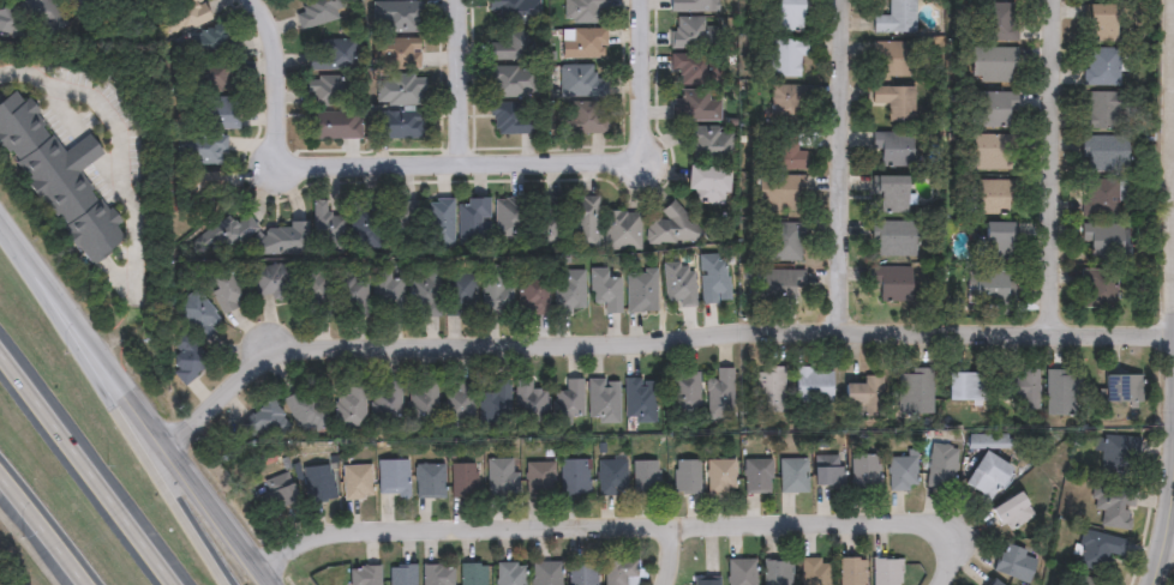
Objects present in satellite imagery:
building: (693, 6)
building: (40, 11)
building: (515, 11)
building: (583, 11)
building: (313, 12)
building: (787, 16)
building: (396, 17)
building: (181, 18)
building: (896, 19)
building: (8, 20)
building: (999, 23)
building: (1101, 23)
building: (695, 34)
building: (205, 44)
building: (583, 44)
building: (510, 48)
building: (397, 54)
building: (331, 56)
building: (786, 59)
building: (893, 60)
building: (993, 65)
building: (1102, 67)
building: (695, 70)
building: (216, 76)
road: (462, 80)
building: (580, 82)
road: (643, 82)
building: (510, 83)
building: (329, 91)
building: (399, 92)
building: (896, 103)
building: (785, 104)
building: (696, 107)
building: (992, 109)
building: (1104, 110)
building: (220, 114)
building: (519, 119)
building: (581, 120)
building: (333, 126)
building: (399, 126)
road: (116, 141)
building: (709, 145)
building: (892, 149)
building: (200, 151)
building: (786, 152)
building: (992, 152)
building: (1104, 155)
road: (373, 161)
road: (1056, 167)
road: (847, 169)
building: (59, 182)
building: (707, 185)
building: (200, 186)
building: (780, 191)
building: (888, 197)
building: (992, 197)
building: (1100, 199)
building: (510, 219)
building: (569, 222)
building: (360, 223)
building: (438, 223)
building: (472, 223)
building: (402, 225)
building: (671, 225)
building: (325, 229)
building: (622, 231)
road: (6, 233)
building: (227, 234)
building: (282, 240)
building: (892, 240)
building: (1102, 241)
building: (996, 242)
building: (784, 243)
building: (713, 279)
building: (892, 283)
building: (272, 284)
building: (678, 284)
building: (783, 287)
building: (990, 287)
building: (1098, 289)
building: (224, 290)
building: (569, 291)
building: (604, 291)
building: (495, 292)
building: (640, 292)
building: (387, 294)
building: (423, 294)
building: (459, 296)
building: (315, 298)
building: (352, 298)
building: (531, 298)
building: (196, 314)
road: (651, 342)
building: (185, 358)
building: (814, 385)
building: (965, 386)
building: (1023, 387)
building: (1121, 387)
building: (768, 388)
building: (916, 391)
building: (1061, 391)
building: (862, 394)
building: (684, 396)
building: (719, 396)
building: (639, 399)
building: (603, 400)
building: (385, 402)
building: (493, 402)
building: (567, 402)
building: (459, 403)
building: (528, 403)
building: (421, 404)
building: (348, 405)
building: (304, 409)
road: (140, 412)
road: (118, 414)
building: (264, 420)
building: (1119, 454)
building: (942, 465)
road: (84, 469)
building: (828, 470)
building: (863, 471)
building: (903, 471)
building: (986, 474)
building: (792, 475)
building: (501, 476)
building: (687, 476)
building: (720, 476)
building: (757, 476)
building: (393, 477)
building: (575, 477)
building: (611, 477)
building: (645, 477)
building: (430, 480)
building: (463, 480)
building: (539, 480)
building: (357, 481)
building: (318, 482)
building: (278, 491)
building: (1112, 503)
building: (1011, 511)
road: (599, 526)
road: (43, 527)
building: (1096, 549)
road: (1166, 553)
road: (665, 555)
road: (948, 563)
building: (1013, 563)
building: (851, 571)
building: (619, 572)
building: (742, 572)
building: (815, 572)
building: (886, 572)
building: (511, 573)
building: (547, 573)
building: (582, 573)
building: (777, 573)
building: (402, 574)
building: (437, 574)
building: (473, 574)
building: (365, 575)
building: (1085, 580)
building: (705, 581)
building: (990, 583)

